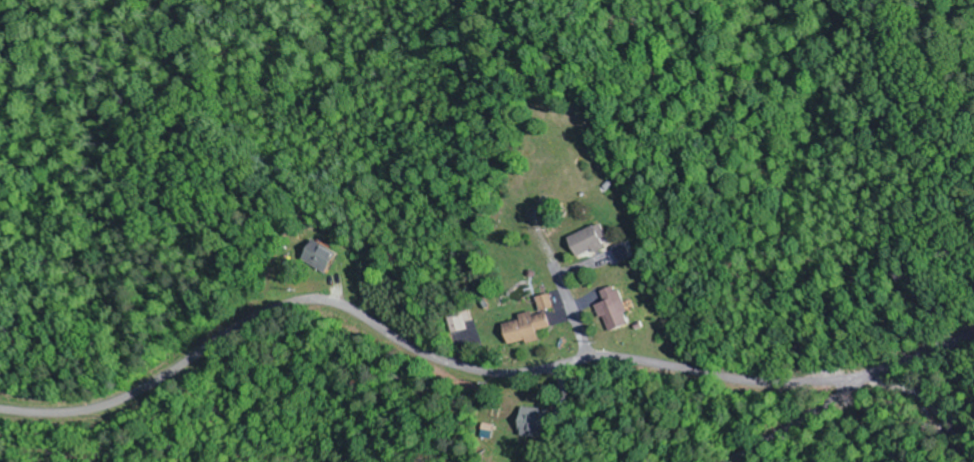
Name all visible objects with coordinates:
building: (587, 241)
building: (622, 252)
building: (319, 256)
building: (544, 303)
building: (612, 310)
building: (524, 328)
road: (433, 357)
road: (847, 391)

